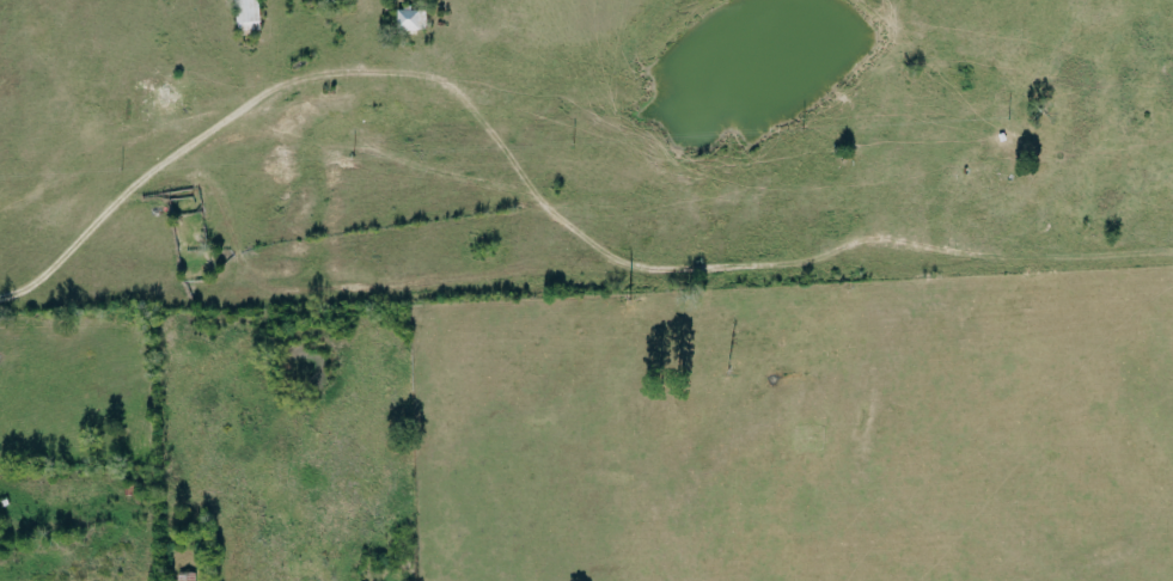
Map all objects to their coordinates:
building: (248, 16)
building: (411, 20)
building: (187, 576)

